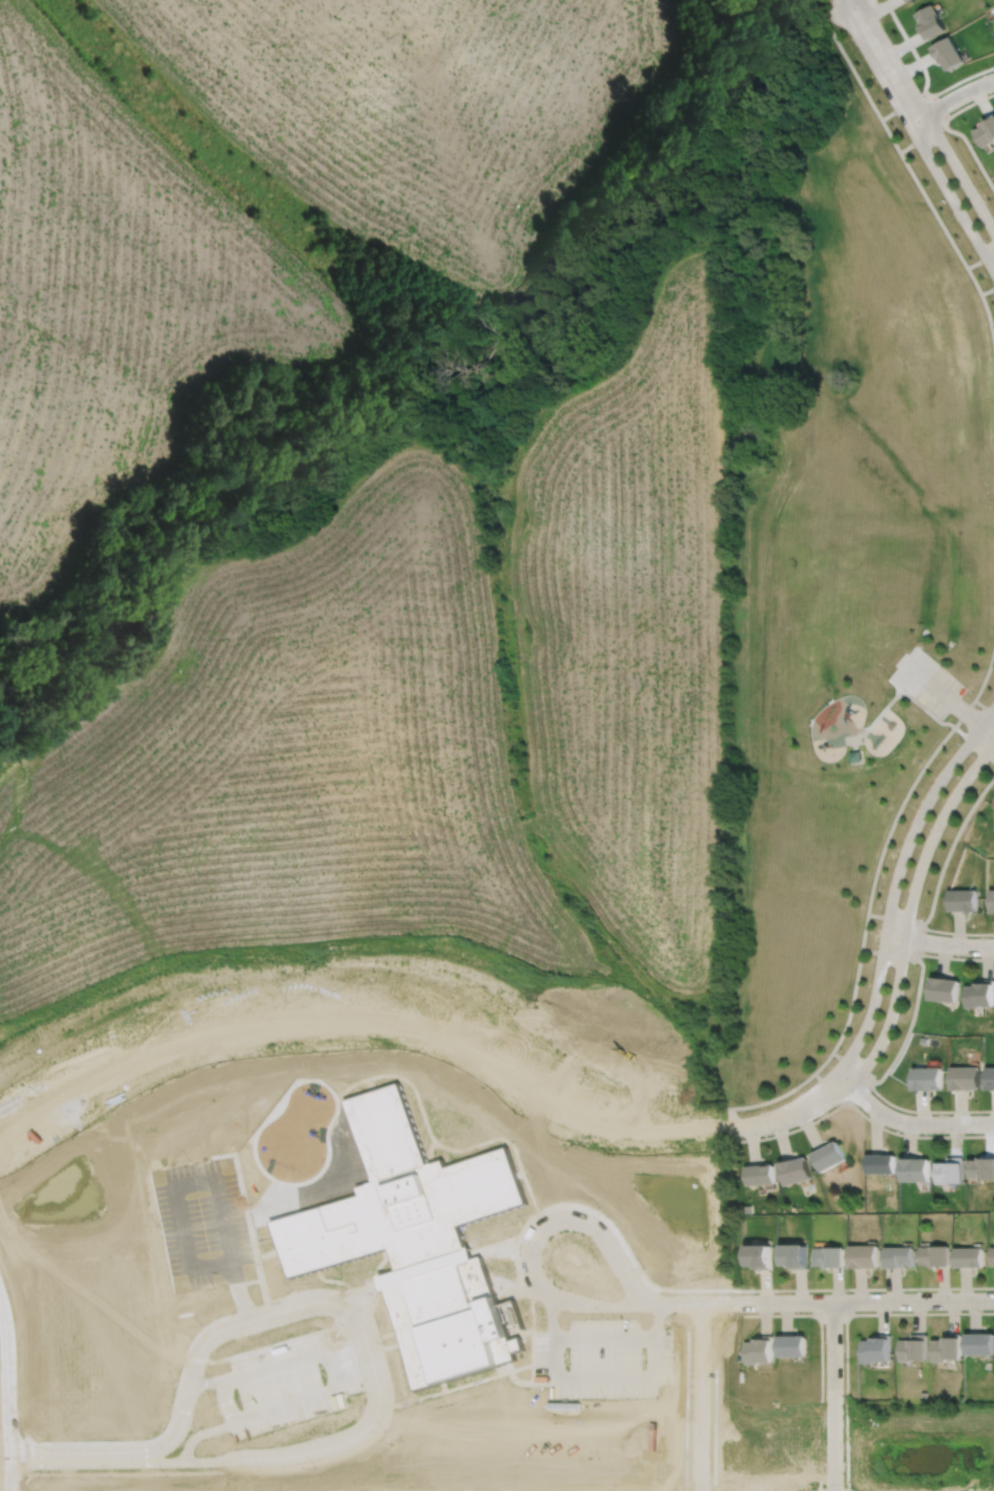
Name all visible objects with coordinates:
building: (907, 0)
building: (930, 22)
road: (911, 48)
building: (948, 53)
road: (884, 62)
road: (962, 79)
road: (954, 98)
road: (968, 104)
road: (903, 105)
road: (939, 107)
crop: (427, 112)
street lamp: (903, 127)
building: (985, 132)
road: (922, 138)
road: (971, 150)
road: (911, 171)
road: (959, 172)
street lamp: (974, 184)
road: (951, 197)
road: (980, 259)
street lamp: (988, 275)
road: (987, 290)
crop: (117, 302)
parking lot: (928, 681)
road: (895, 683)
road: (977, 692)
road: (943, 693)
road: (893, 697)
road: (983, 705)
crop: (428, 719)
road: (988, 730)
road: (974, 742)
road: (854, 744)
park: (833, 756)
building: (855, 757)
road: (950, 850)
road: (895, 883)
building: (965, 902)
building: (992, 902)
road: (910, 909)
road: (894, 919)
road: (957, 933)
road: (862, 941)
road: (920, 942)
road: (939, 944)
road: (889, 954)
road: (955, 959)
building: (945, 991)
building: (981, 996)
road: (908, 1025)
road: (851, 1066)
building: (926, 1077)
building: (964, 1077)
building: (990, 1077)
road: (827, 1087)
road: (859, 1094)
road: (927, 1111)
road: (788, 1113)
road: (910, 1123)
road: (792, 1129)
road: (917, 1137)
road: (434, 1142)
building: (828, 1155)
building: (880, 1163)
building: (981, 1167)
building: (914, 1169)
building: (794, 1170)
building: (949, 1170)
building: (759, 1173)
road: (176, 1189)
building: (745, 1207)
road: (245, 1217)
road: (523, 1236)
building: (411, 1240)
building: (760, 1255)
building: (794, 1256)
building: (864, 1256)
building: (935, 1256)
building: (993, 1256)
building: (829, 1257)
building: (899, 1257)
building: (970, 1257)
road: (652, 1287)
road: (235, 1290)
road: (662, 1300)
road: (844, 1301)
road: (726, 1314)
road: (832, 1314)
road: (693, 1317)
road: (845, 1329)
road: (352, 1337)
road: (363, 1340)
road: (269, 1341)
building: (980, 1344)
building: (791, 1346)
building: (913, 1348)
building: (947, 1348)
building: (876, 1349)
building: (758, 1350)
road: (320, 1366)
road: (589, 1369)
road: (447, 1379)
road: (201, 1384)
road: (9, 1388)
road: (678, 1395)
road: (694, 1396)
road: (833, 1396)
road: (222, 1400)
road: (197, 1434)
road: (816, 1484)
road: (831, 1486)

